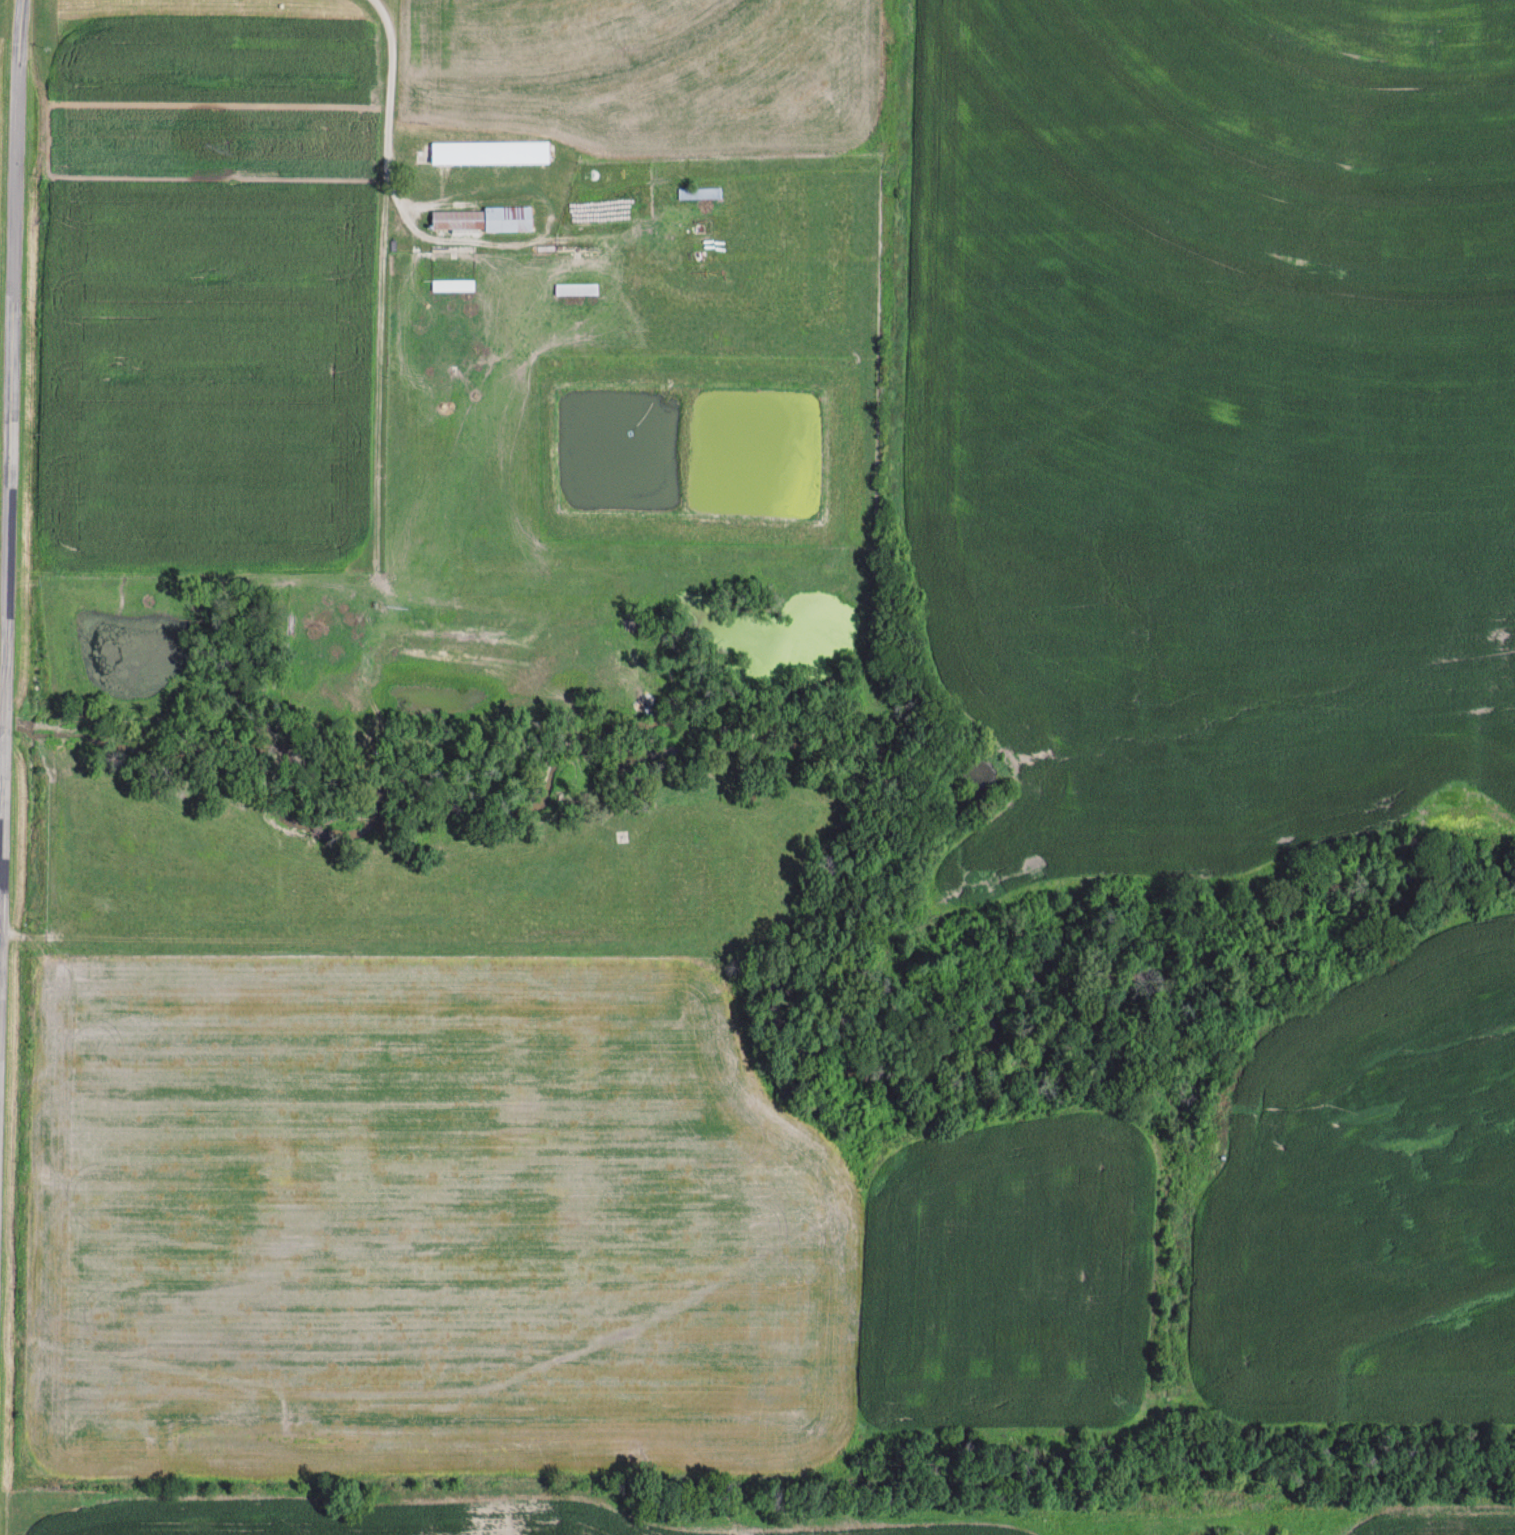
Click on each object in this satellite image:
road: (390, 125)
building: (490, 152)
building: (699, 193)
building: (481, 220)
building: (452, 285)
building: (576, 290)
road: (11, 441)
road: (307, 940)
road: (607, 1472)

